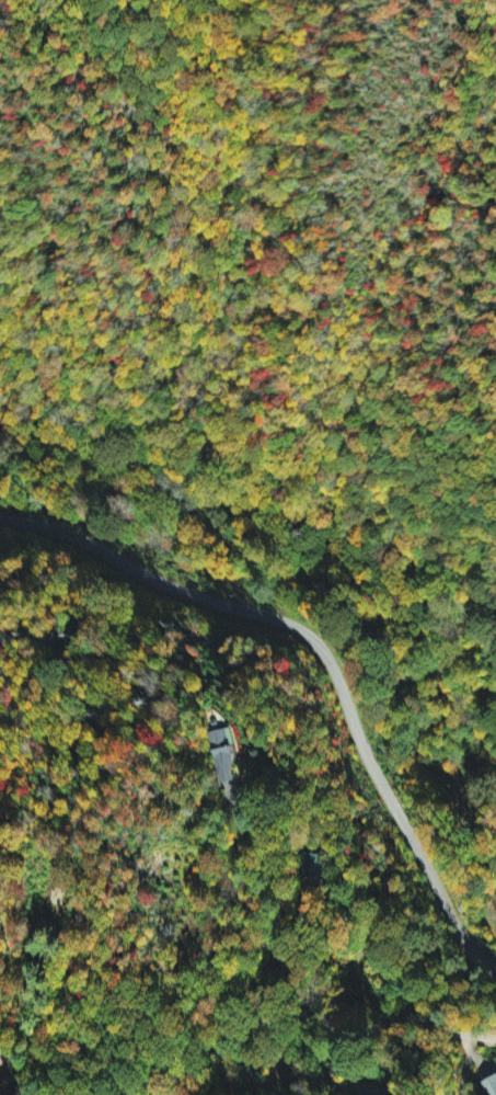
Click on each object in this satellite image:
road: (313, 624)
building: (223, 756)
building: (318, 864)
road: (303, 984)
road: (25, 995)
building: (491, 1085)

